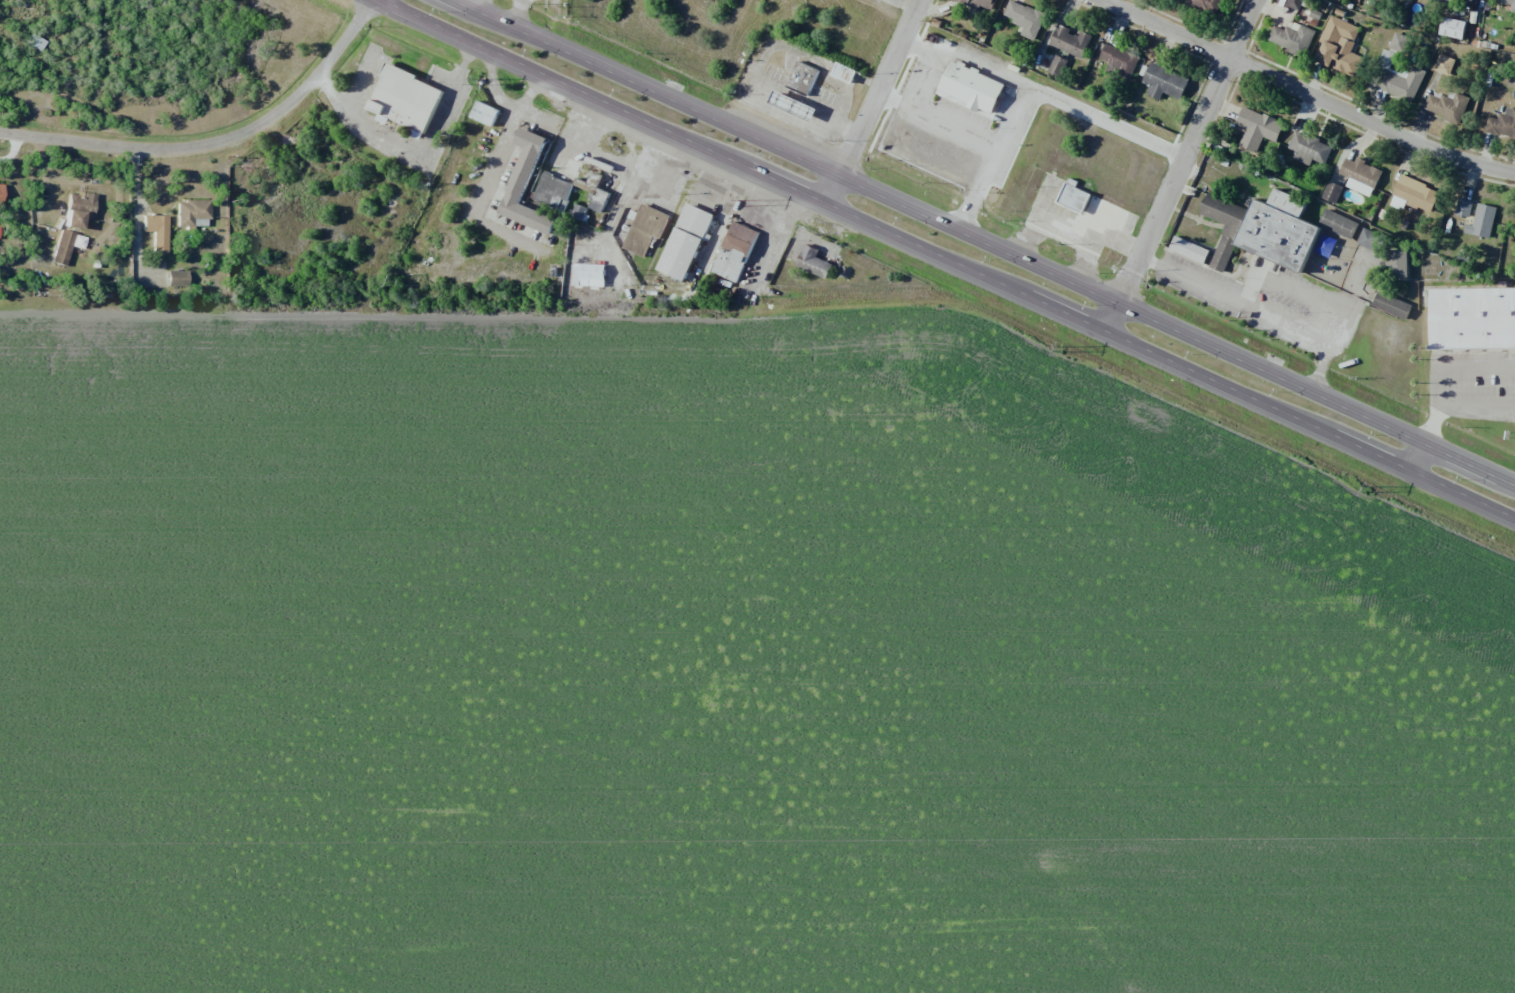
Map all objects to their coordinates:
building: (1453, 1)
building: (976, 3)
building: (1294, 4)
building: (1206, 5)
building: (1512, 7)
building: (1024, 18)
building: (1452, 28)
building: (1292, 38)
building: (36, 41)
building: (1070, 41)
building: (1399, 42)
building: (1339, 48)
road: (971, 60)
building: (1119, 61)
building: (1443, 64)
building: (1057, 66)
building: (844, 73)
building: (802, 78)
power tower: (481, 81)
building: (1164, 82)
building: (971, 87)
road: (1311, 91)
road: (1036, 94)
building: (406, 100)
road: (875, 101)
building: (793, 106)
building: (1447, 106)
building: (485, 113)
road: (930, 115)
building: (1502, 124)
building: (1256, 128)
road: (217, 144)
building: (1308, 149)
road: (1180, 165)
building: (1360, 176)
building: (527, 185)
building: (0, 191)
building: (552, 192)
building: (1331, 192)
building: (1415, 195)
building: (1073, 196)
power tower: (745, 199)
building: (601, 202)
building: (1463, 207)
building: (78, 209)
building: (191, 212)
building: (578, 212)
building: (1482, 221)
building: (1338, 223)
building: (646, 229)
building: (156, 231)
building: (1368, 239)
building: (685, 242)
building: (1280, 242)
road: (982, 243)
building: (61, 247)
building: (1189, 249)
building: (735, 252)
road: (948, 258)
building: (813, 262)
building: (1397, 264)
building: (592, 274)
building: (175, 278)
building: (1391, 305)
building: (1475, 320)
power tower: (1060, 347)
road: (1415, 457)
power tower: (1367, 485)

